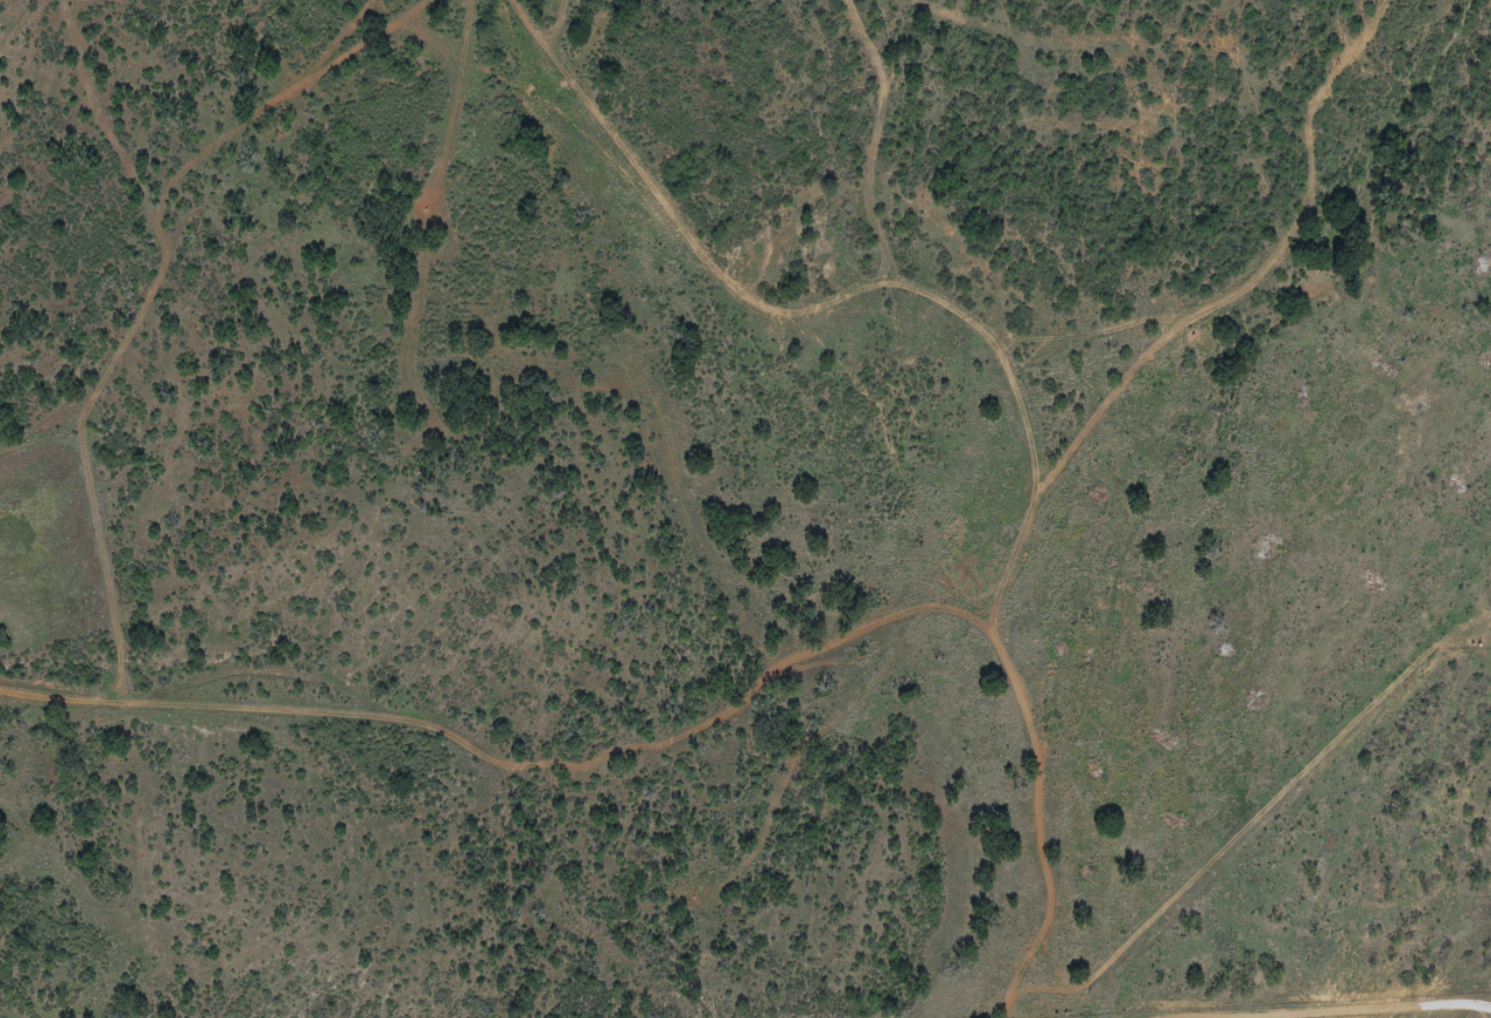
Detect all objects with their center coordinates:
road: (191, 244)
road: (1101, 462)

